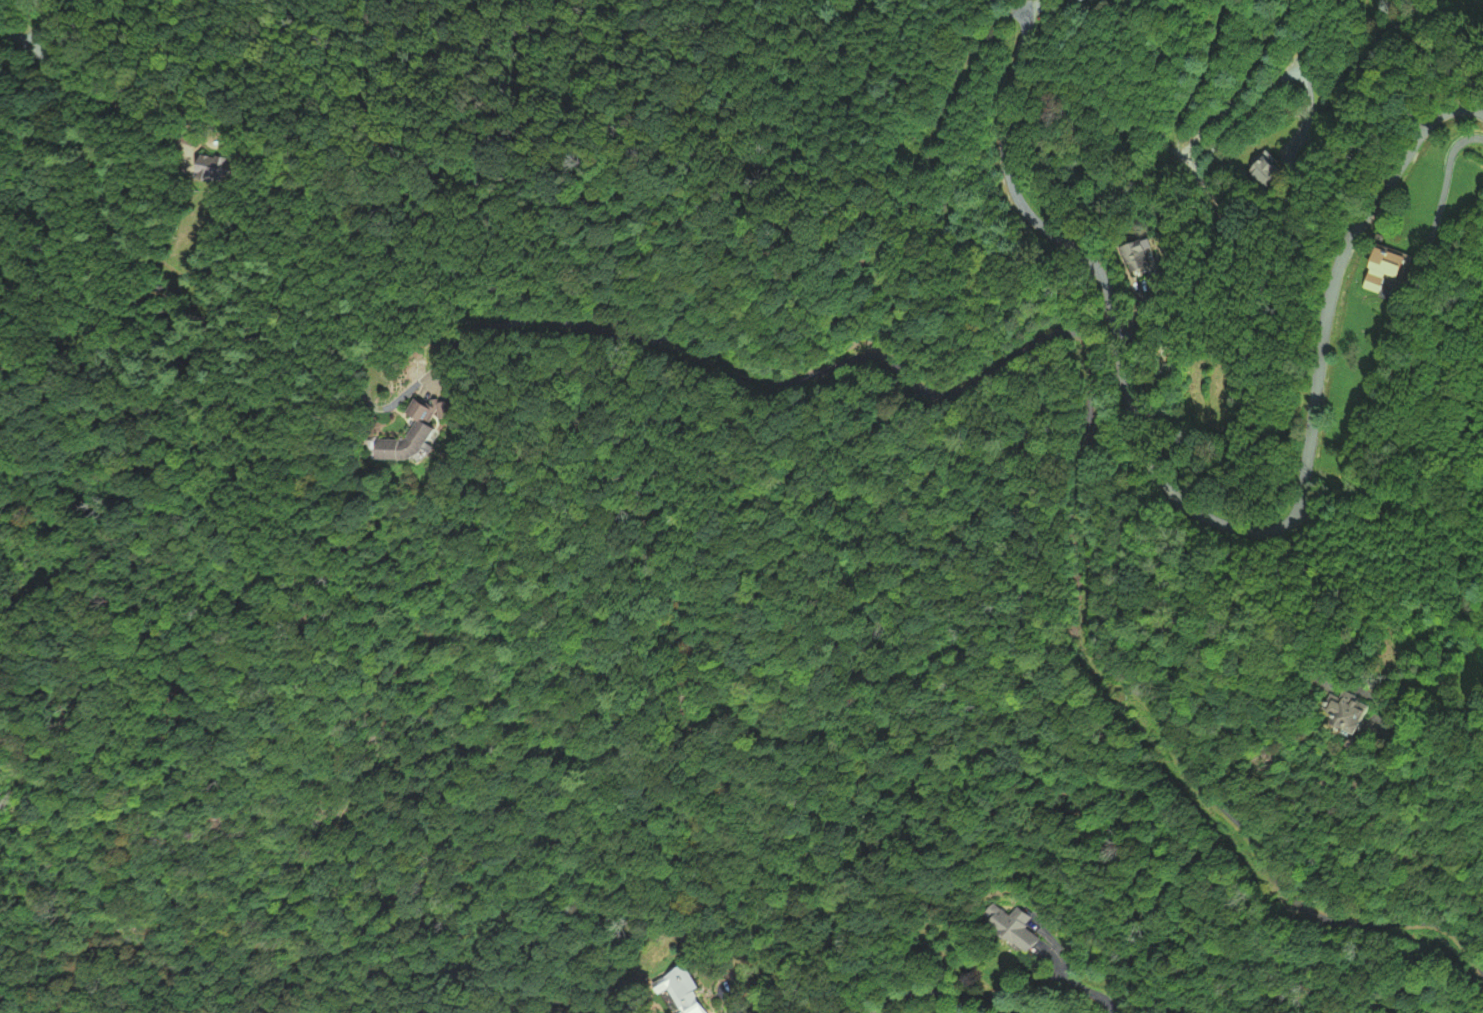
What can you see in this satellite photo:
road: (15, 39)
road: (111, 101)
building: (220, 169)
building: (1275, 173)
building: (1155, 260)
building: (1372, 271)
road: (1088, 403)
building: (413, 445)
road: (1205, 515)
building: (1320, 718)
building: (1005, 927)
road: (945, 990)
building: (681, 991)

